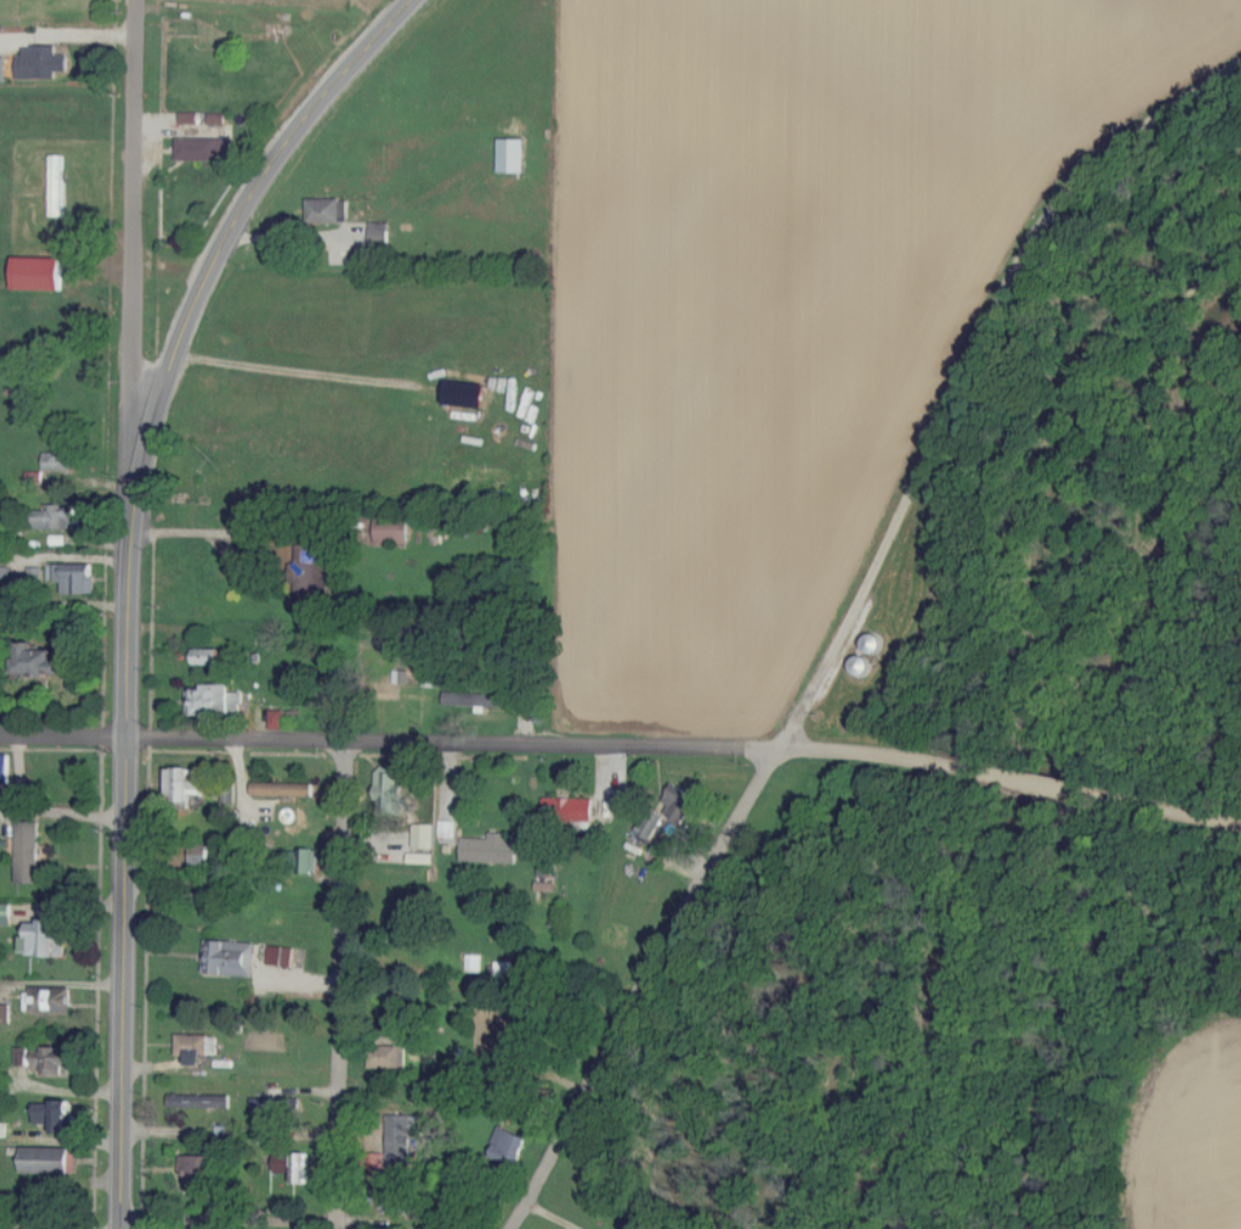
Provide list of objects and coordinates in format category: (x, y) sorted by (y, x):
building: (42, 61)
building: (2, 68)
building: (204, 118)
building: (205, 148)
building: (512, 154)
building: (57, 185)
building: (329, 210)
road: (227, 230)
building: (75, 234)
building: (380, 234)
road: (134, 253)
road: (166, 268)
building: (39, 273)
road: (982, 379)
building: (467, 393)
building: (57, 461)
building: (57, 516)
building: (393, 529)
road: (210, 534)
building: (312, 571)
building: (76, 577)
building: (209, 656)
building: (39, 661)
building: (476, 700)
building: (216, 701)
road: (63, 734)
road: (453, 741)
road: (912, 763)
building: (5, 769)
building: (188, 785)
building: (284, 789)
building: (390, 792)
road: (1143, 799)
building: (619, 800)
building: (681, 805)
building: (569, 809)
building: (448, 828)
building: (425, 836)
building: (491, 849)
building: (29, 853)
building: (199, 855)
building: (423, 856)
road: (126, 867)
building: (6, 914)
building: (47, 939)
building: (282, 956)
building: (231, 958)
road: (338, 984)
road: (652, 995)
building: (59, 1001)
building: (5, 1013)
building: (197, 1048)
road: (295, 1050)
building: (389, 1057)
building: (55, 1063)
building: (200, 1100)
building: (55, 1116)
building: (4, 1129)
building: (270, 1134)
building: (402, 1138)
building: (509, 1146)
building: (47, 1160)
building: (285, 1167)
building: (302, 1168)
building: (203, 1173)
building: (387, 1205)

